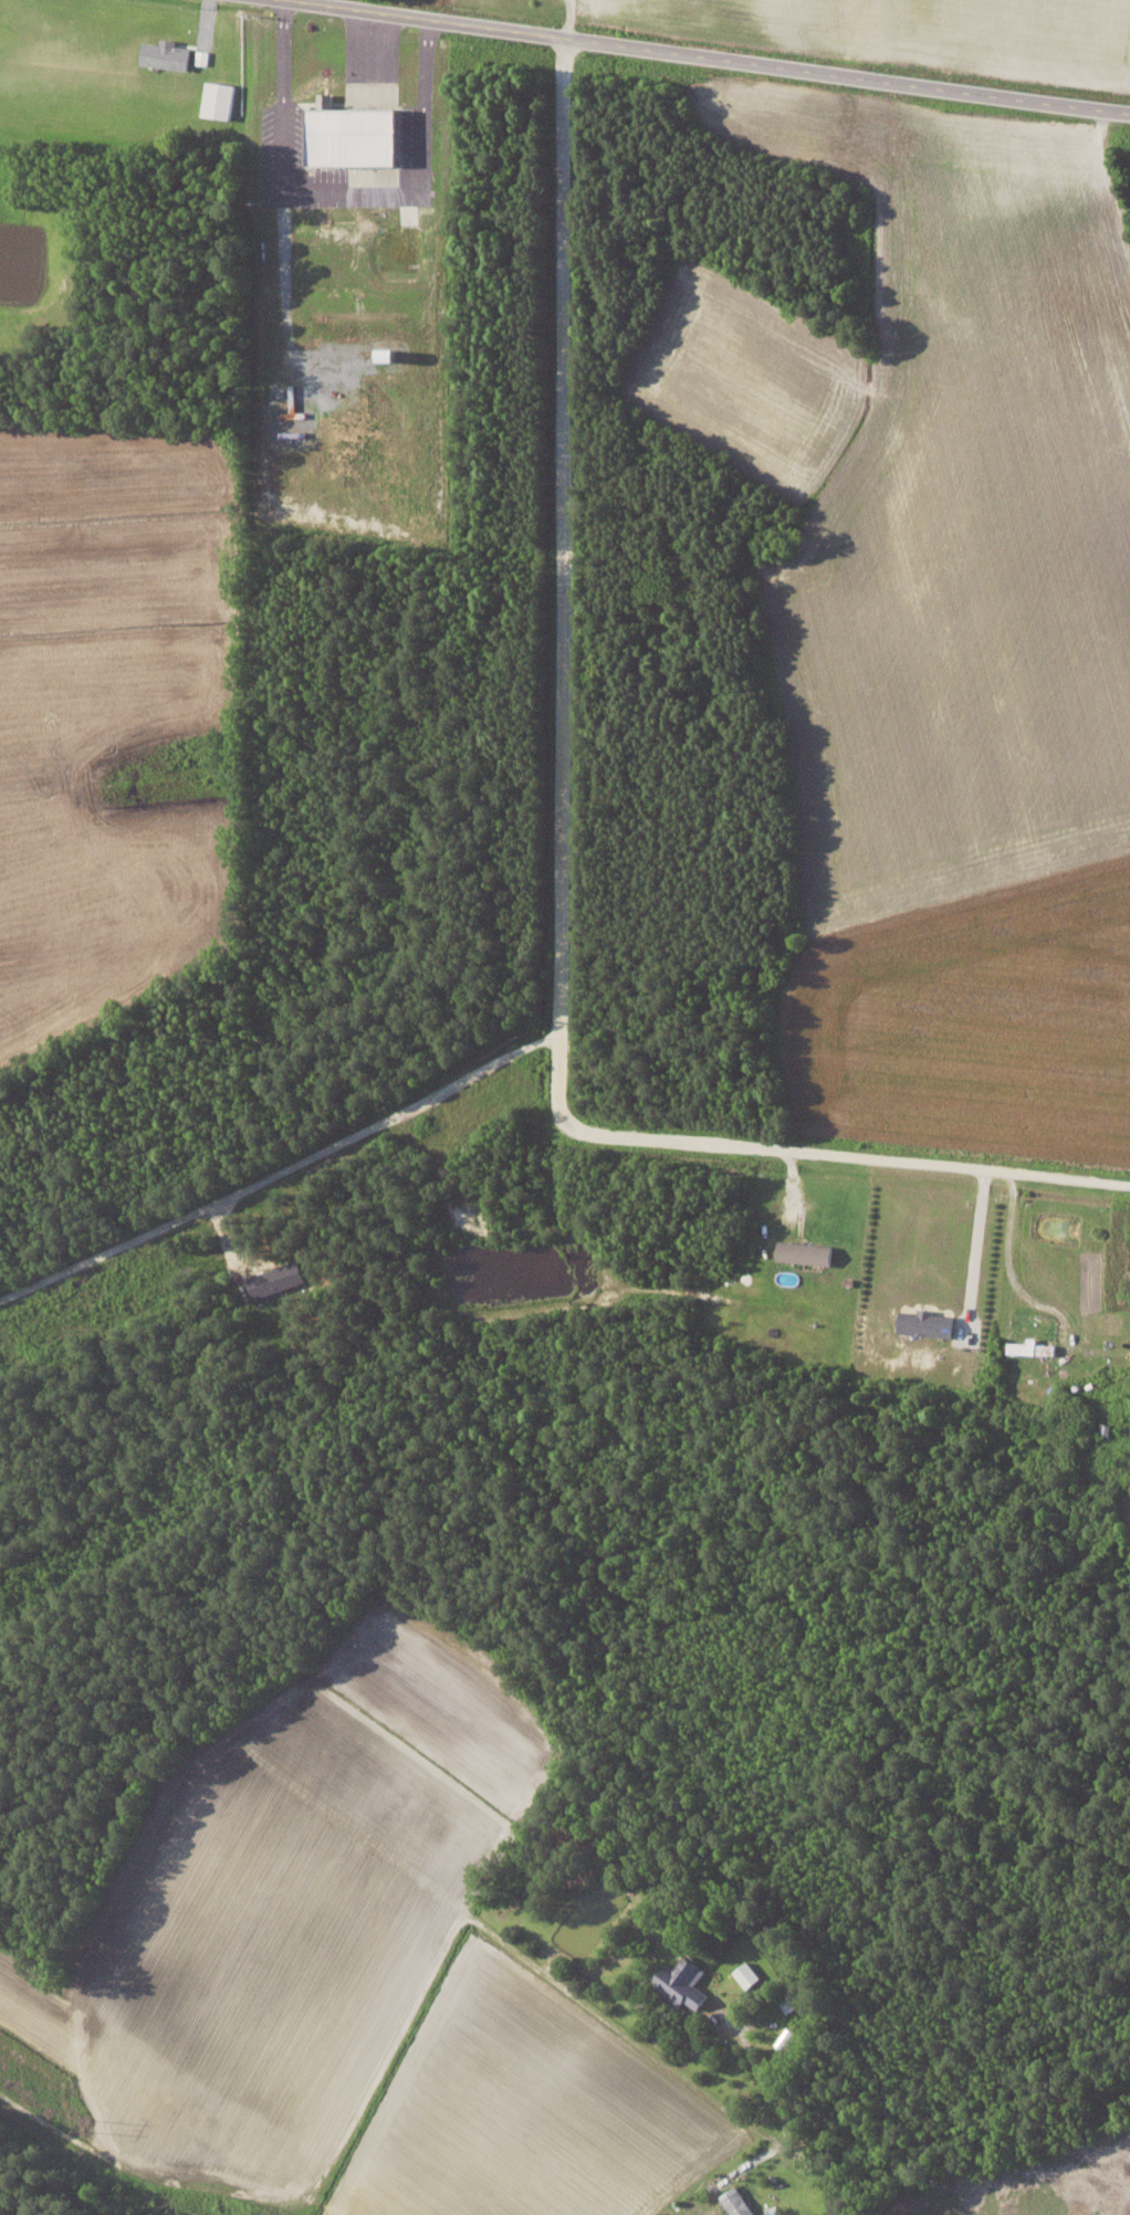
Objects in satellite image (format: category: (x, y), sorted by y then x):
road: (372, 48)
road: (700, 53)
building: (167, 54)
building: (202, 56)
building: (219, 99)
building: (326, 99)
building: (356, 137)
road: (343, 189)
building: (391, 356)
road: (554, 865)
road: (278, 1173)
building: (806, 1252)
building: (276, 1278)
building: (928, 1323)
building: (1032, 1347)
building: (682, 1983)
road: (766, 2086)
power tower: (94, 2122)
road: (830, 2183)
building: (736, 2202)

